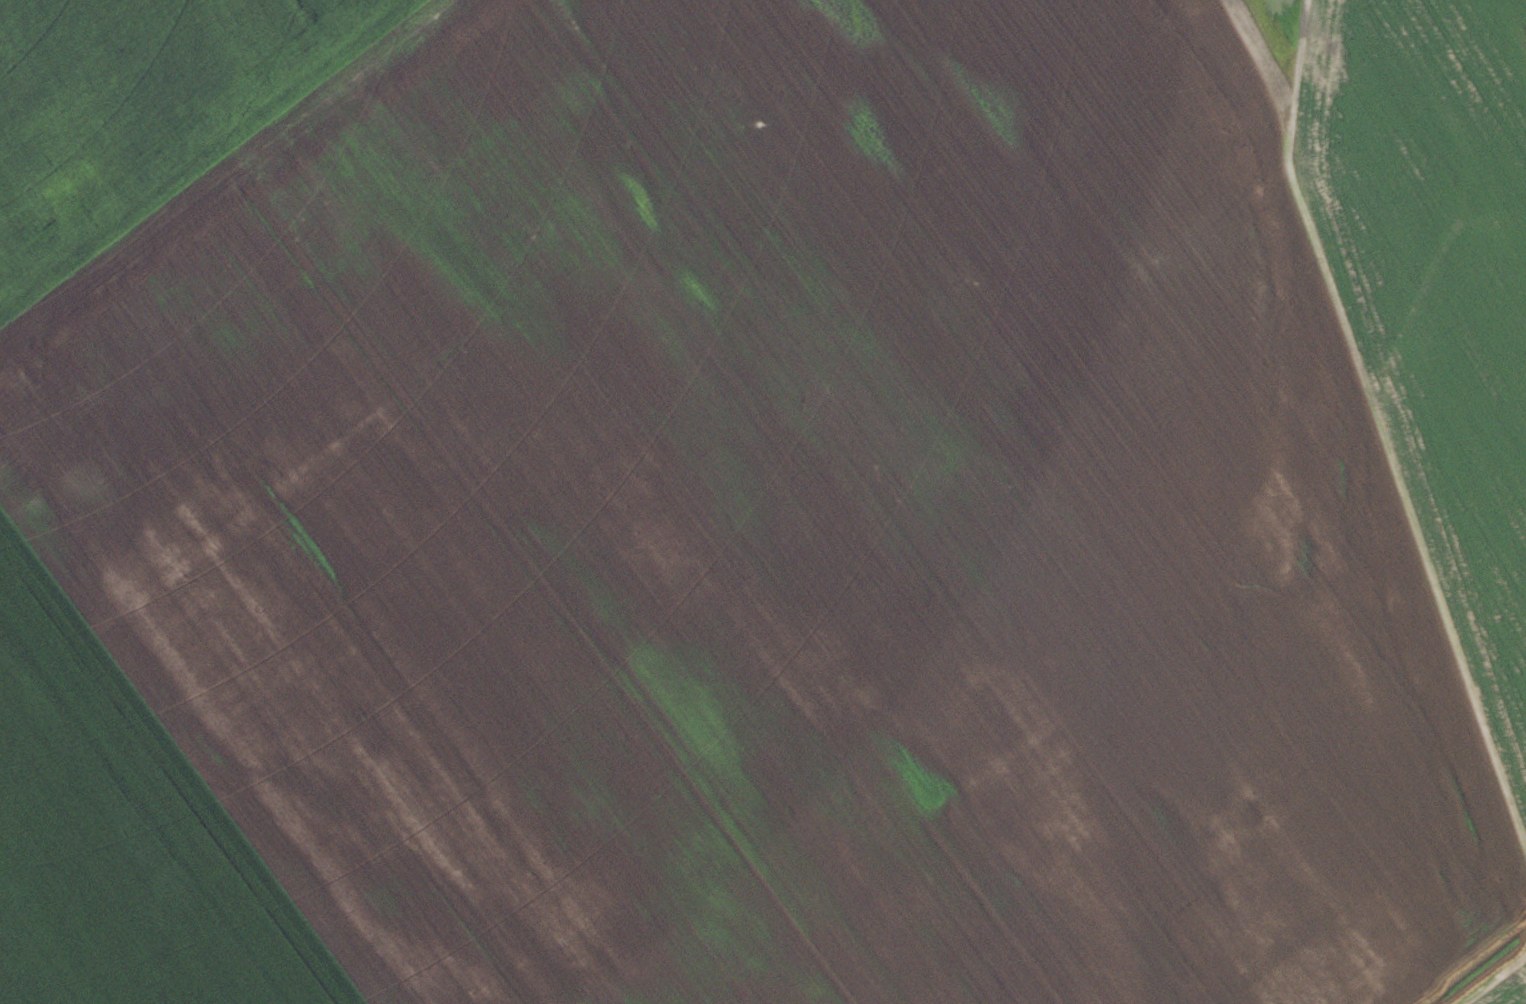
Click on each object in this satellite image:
road: (1491, 978)

